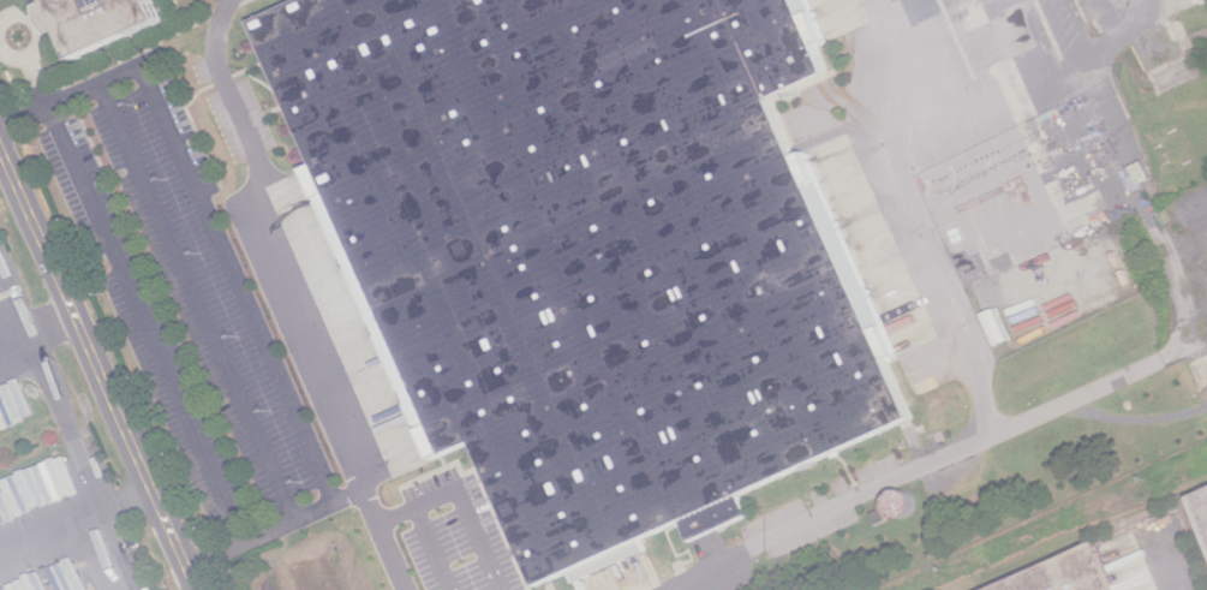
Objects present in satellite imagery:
building: (106, 20)
road: (41, 35)
road: (1017, 37)
road: (908, 60)
road: (852, 106)
road: (919, 179)
road: (895, 181)
road: (945, 181)
road: (1123, 190)
road: (207, 210)
building: (582, 244)
road: (136, 297)
road: (289, 298)
road: (197, 299)
road: (37, 326)
road: (100, 365)
road: (1117, 376)
road: (62, 413)
road: (464, 501)
building: (1202, 503)
road: (275, 525)
road: (52, 526)
road: (438, 548)
road: (97, 552)
road: (1169, 561)
building: (1072, 574)

